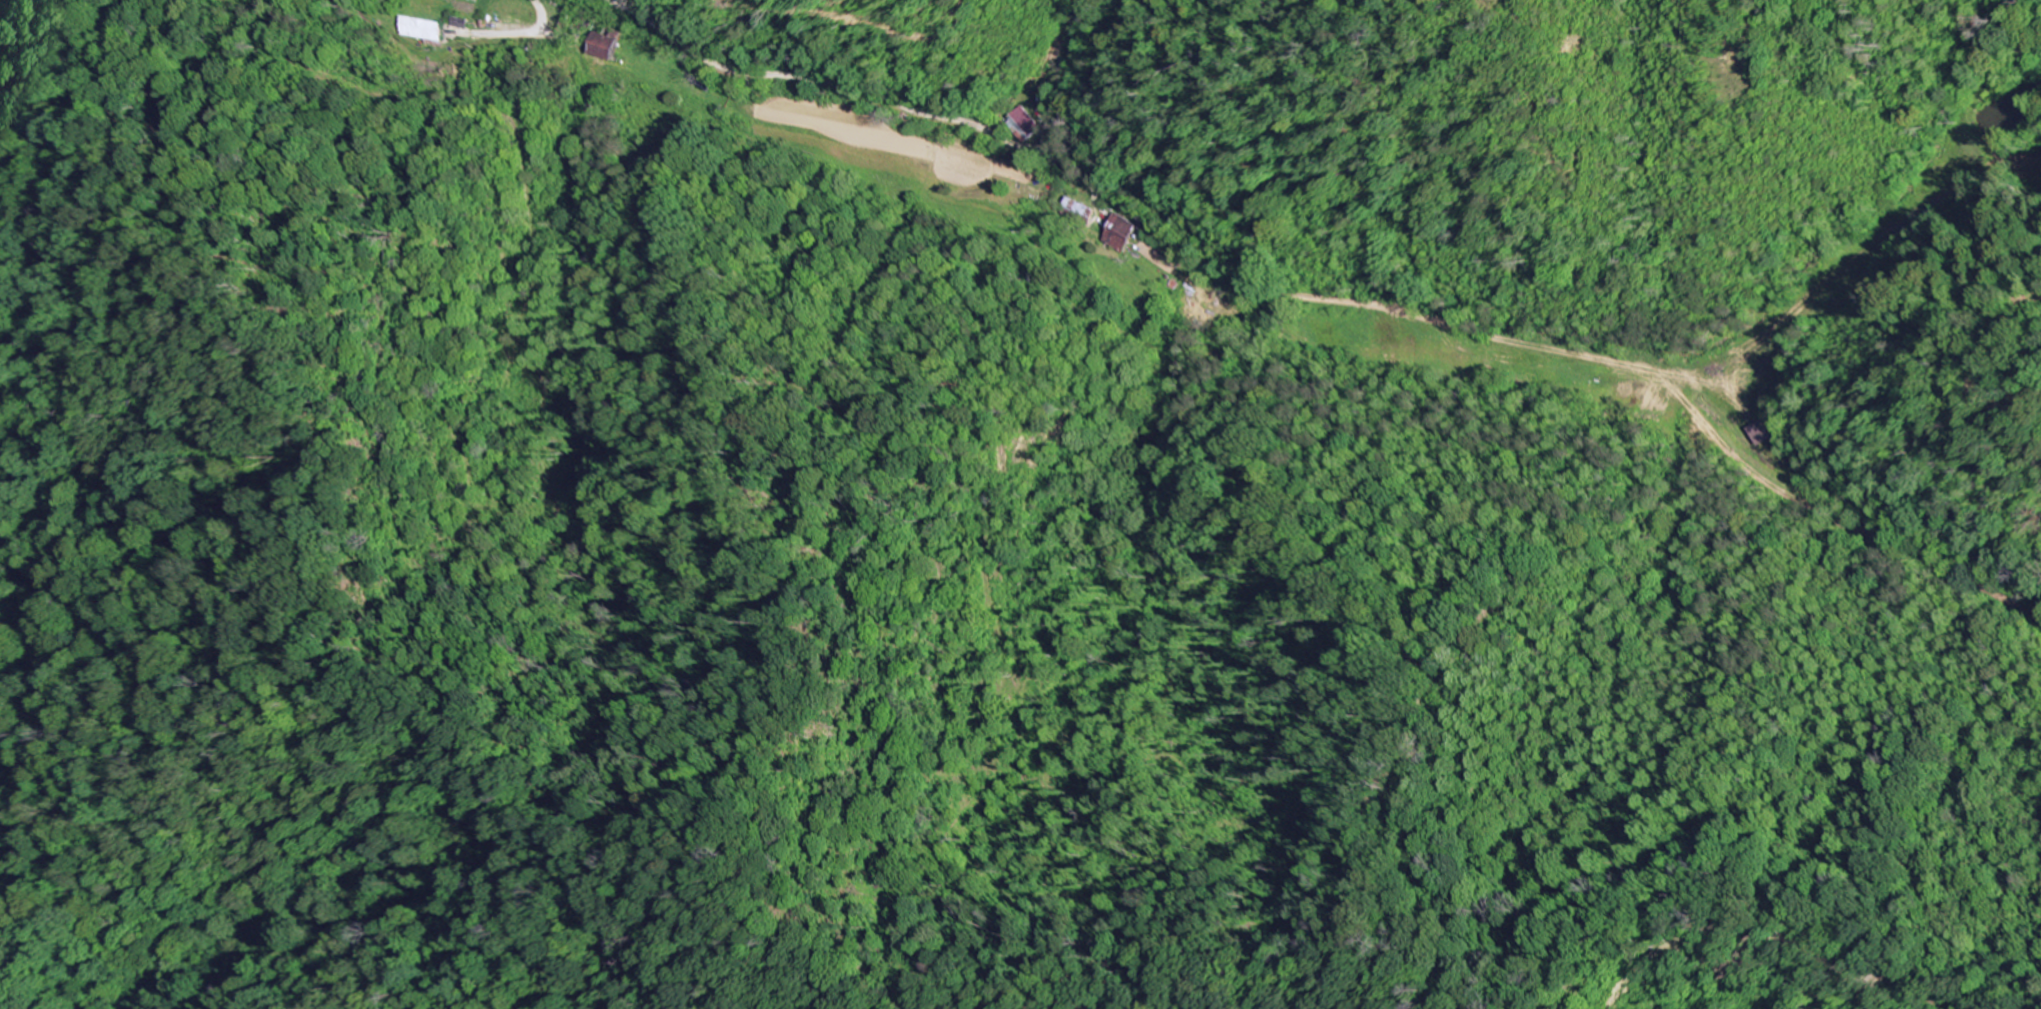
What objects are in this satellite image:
building: (418, 29)
building: (1073, 205)
road: (1157, 219)

